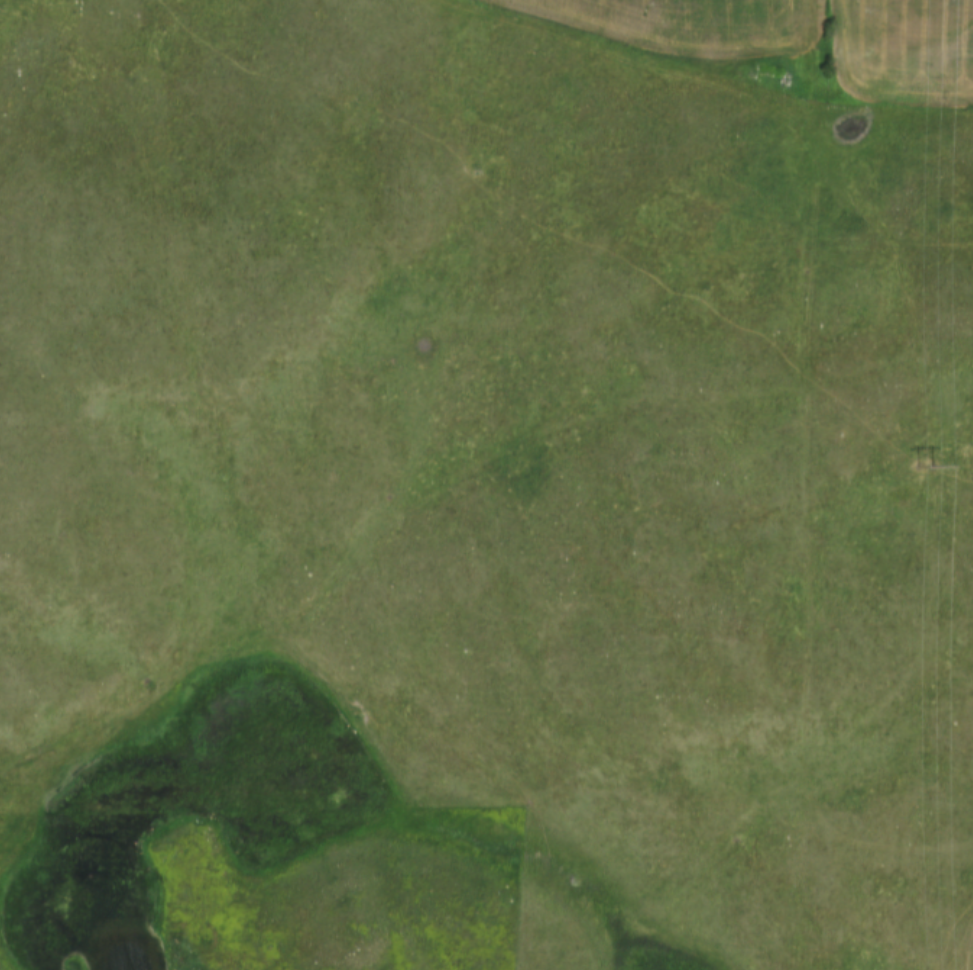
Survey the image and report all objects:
power tower: (925, 468)

